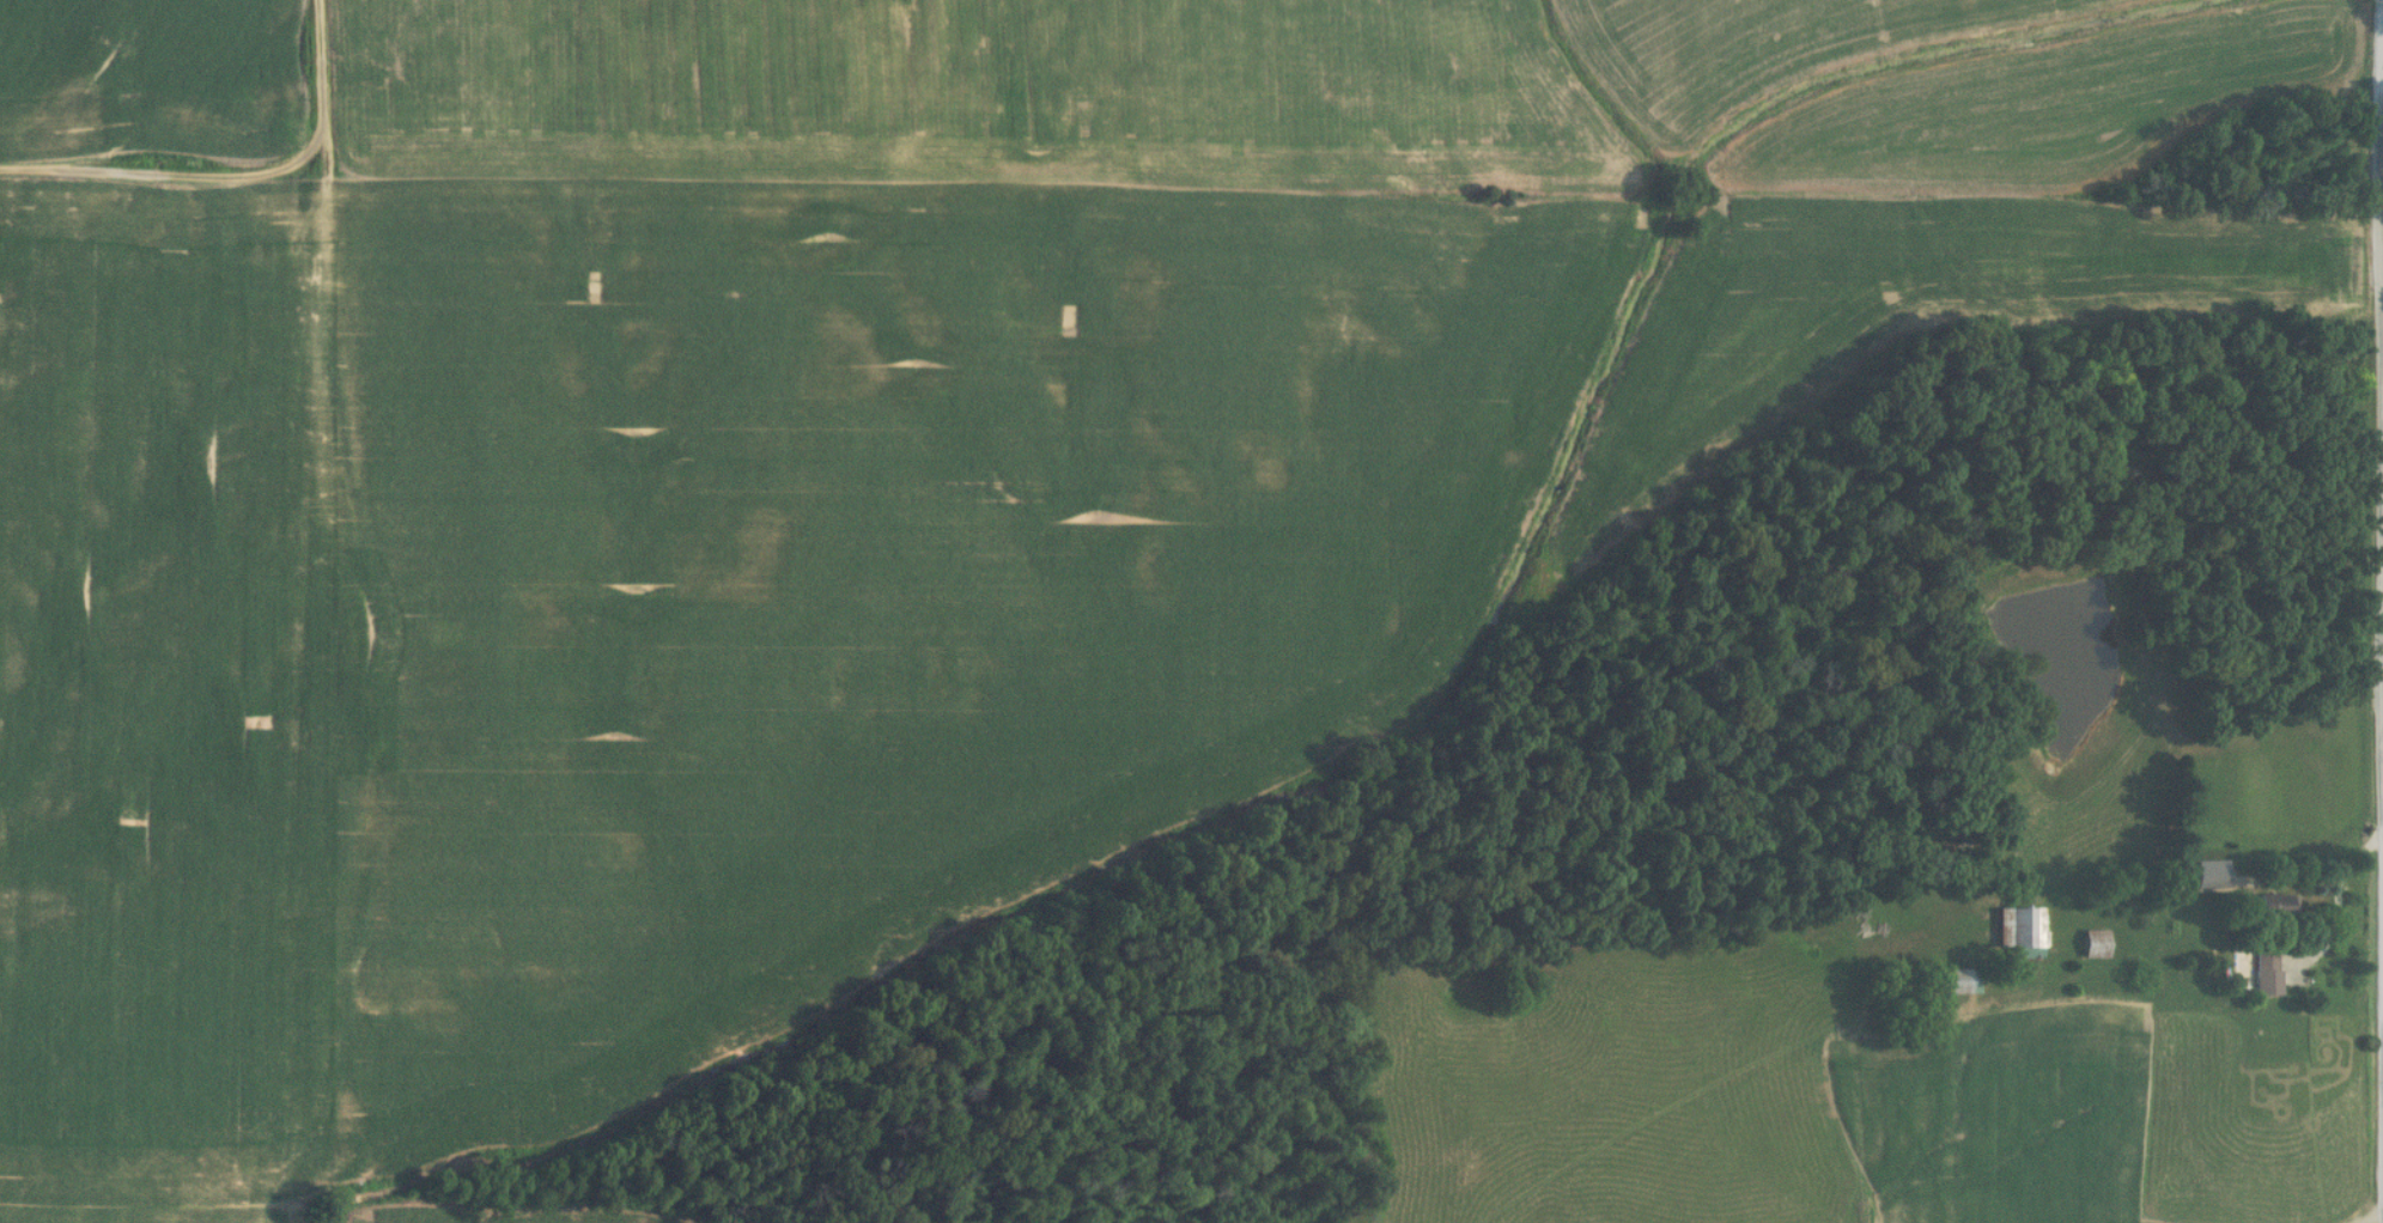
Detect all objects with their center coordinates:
road: (2382, 129)
building: (2208, 875)
road: (2335, 901)
building: (2018, 929)
building: (2092, 943)
building: (2263, 957)
building: (1956, 985)

